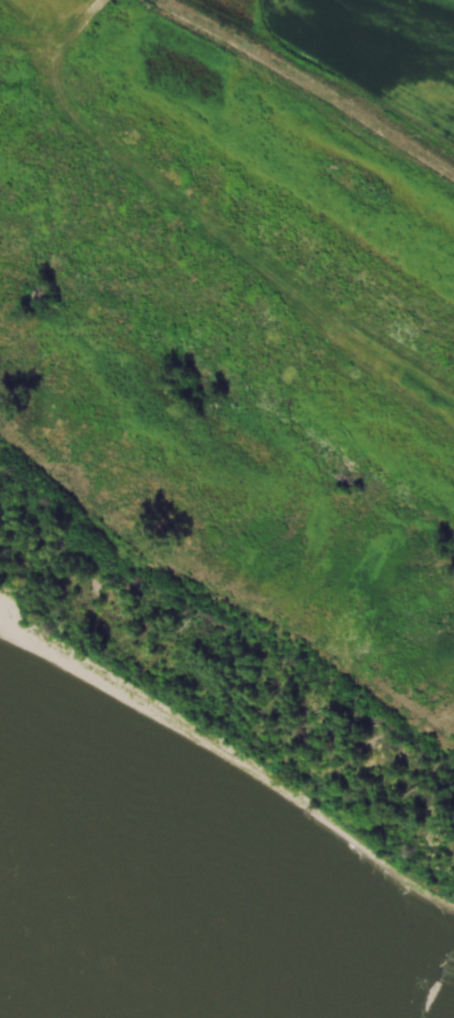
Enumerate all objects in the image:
river: (80, 958)

